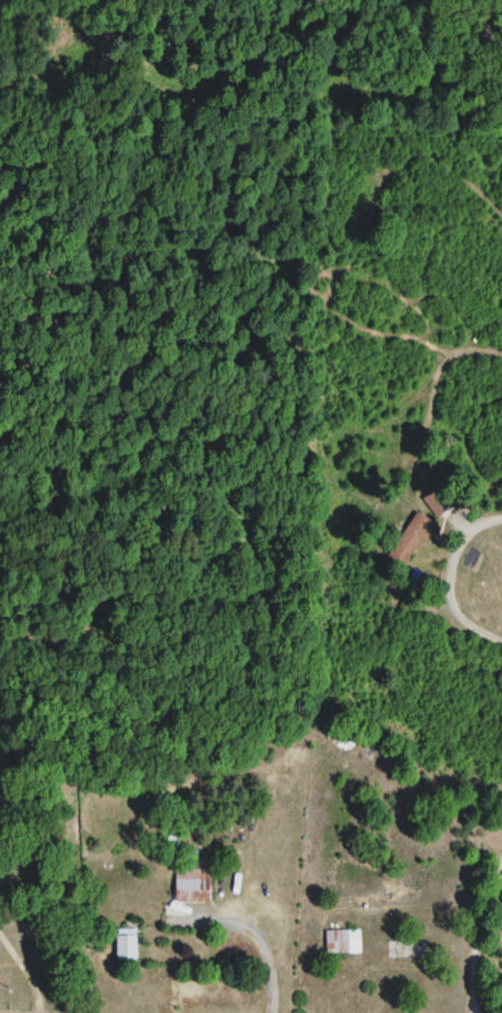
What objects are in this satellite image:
building: (437, 503)
building: (413, 538)
building: (192, 885)
building: (342, 941)
building: (126, 947)

